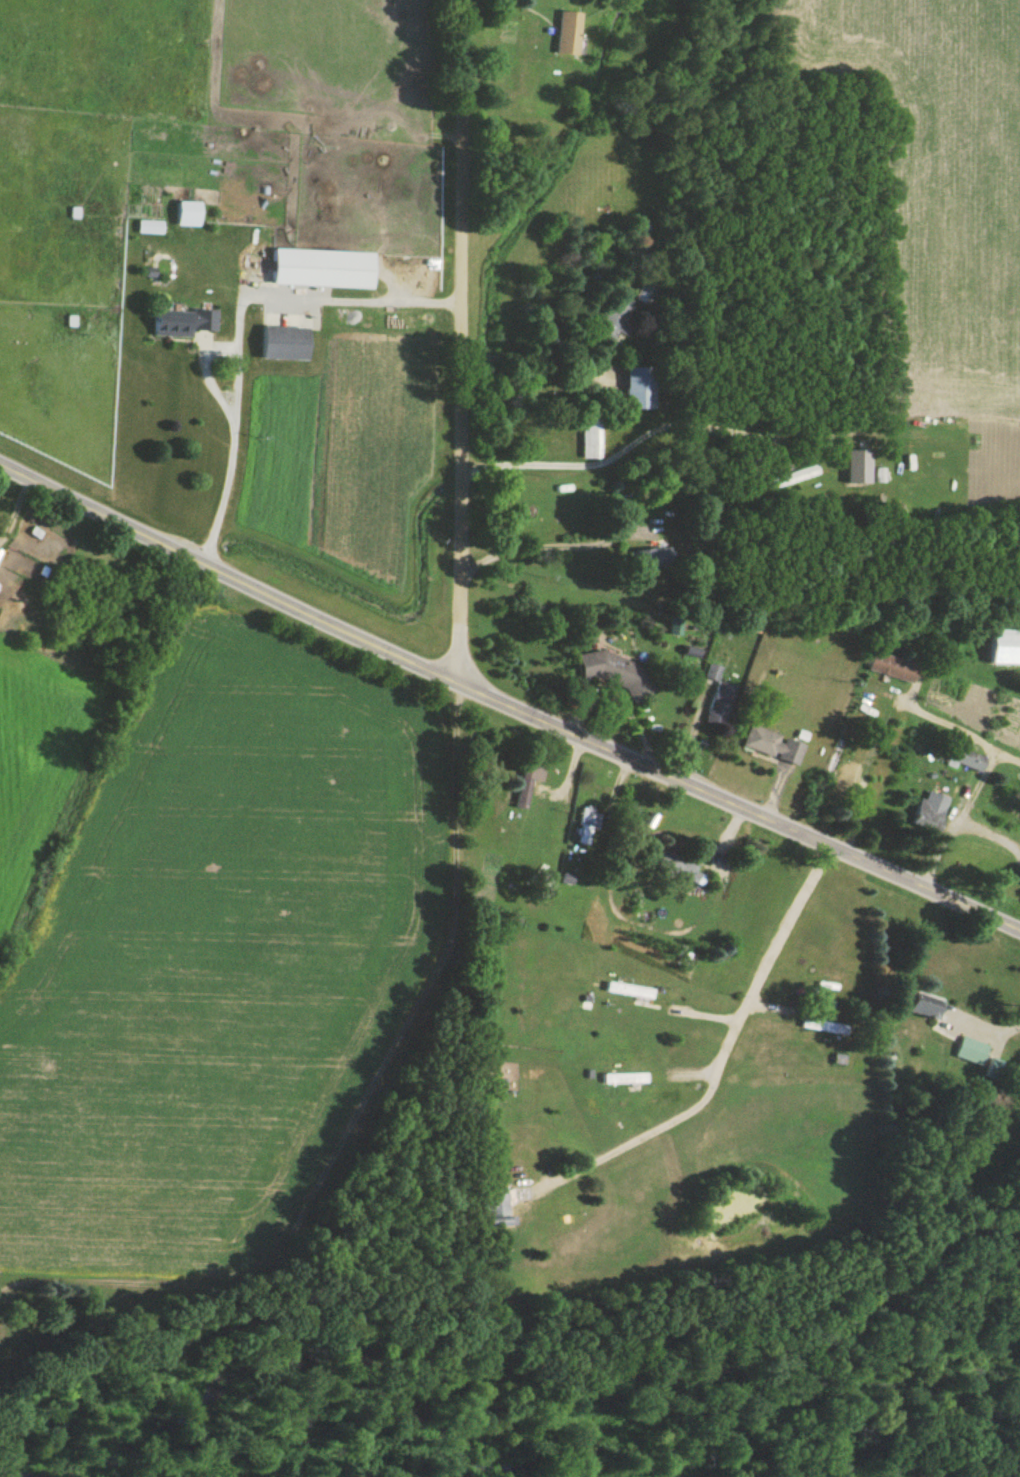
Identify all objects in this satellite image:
building: (567, 36)
building: (187, 215)
building: (322, 270)
building: (611, 317)
building: (181, 324)
road: (459, 339)
building: (283, 344)
building: (638, 390)
building: (589, 436)
building: (790, 479)
building: (648, 560)
building: (1004, 648)
road: (744, 659)
road: (506, 702)
building: (720, 706)
building: (772, 746)
building: (961, 753)
building: (844, 765)
building: (926, 818)
building: (586, 827)
building: (679, 870)
building: (627, 992)
building: (925, 1008)
building: (822, 1028)
building: (972, 1052)
building: (994, 1071)
building: (623, 1080)
road: (347, 1106)
building: (496, 1210)
road: (1002, 1406)

